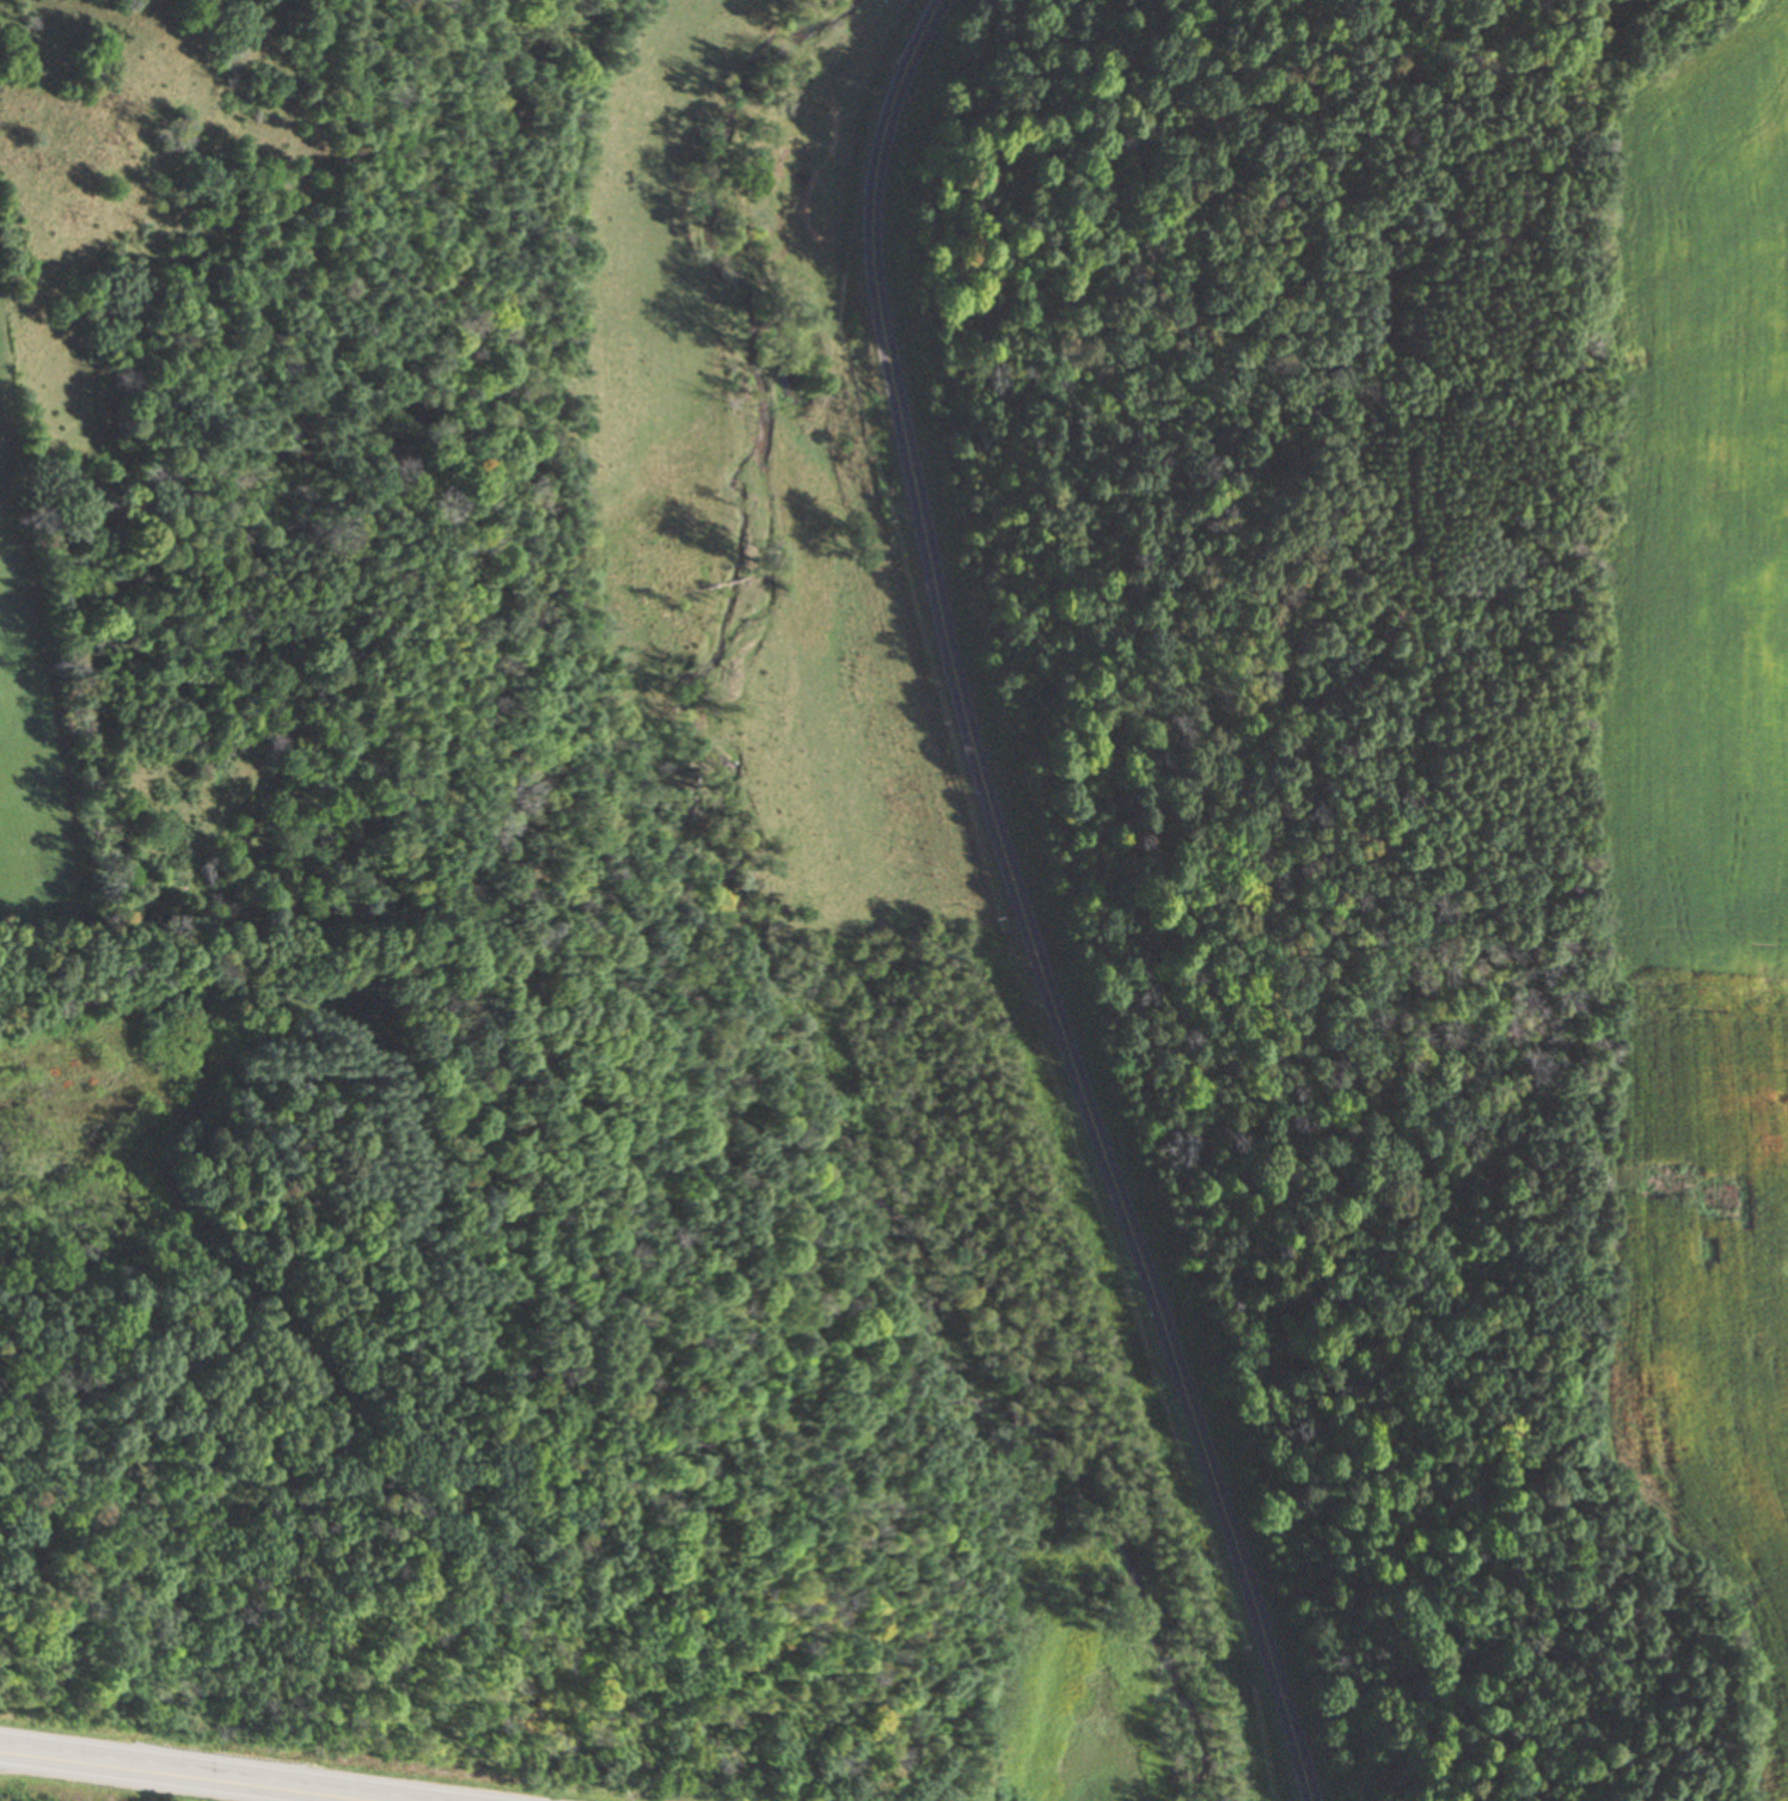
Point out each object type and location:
road: (1012, 908)
road: (186, 1776)

